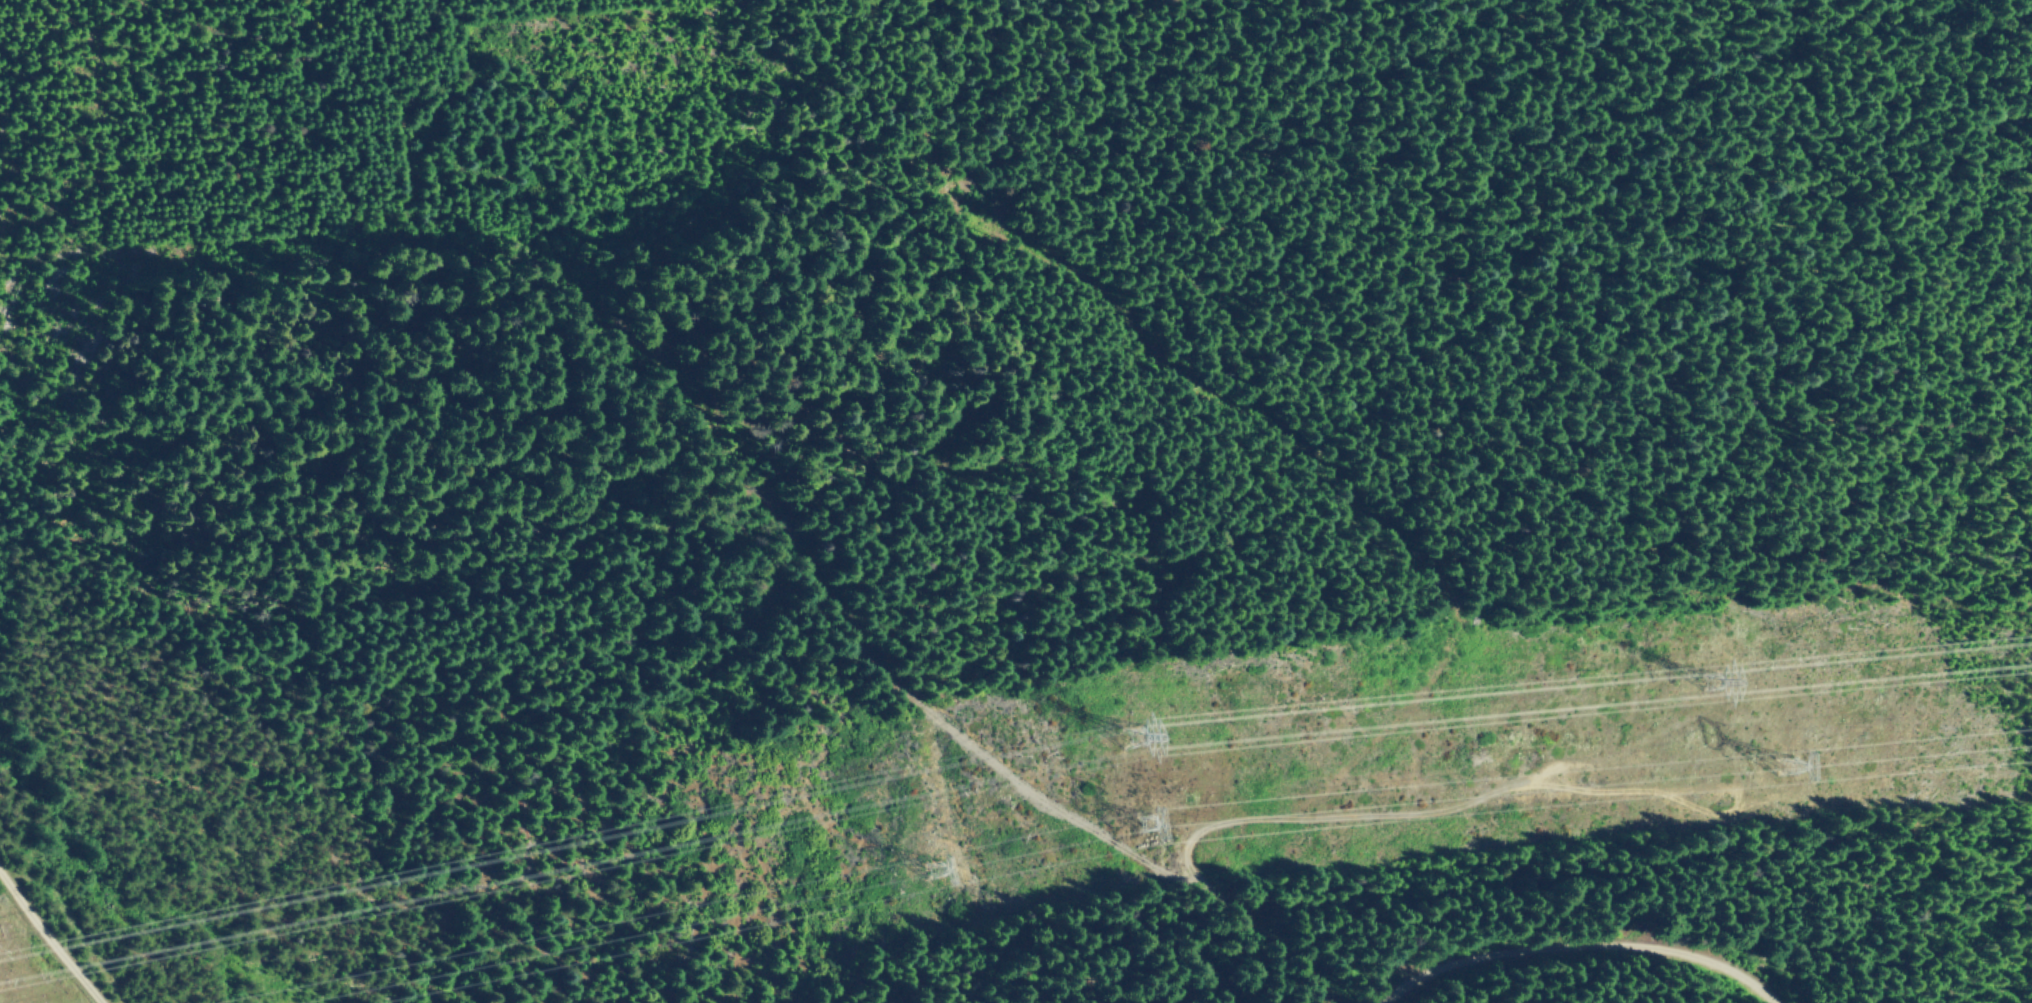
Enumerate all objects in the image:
power tower: (1708, 678)
power tower: (1129, 733)
power tower: (1782, 763)
power tower: (1141, 819)
road: (48, 934)
road: (1572, 942)

